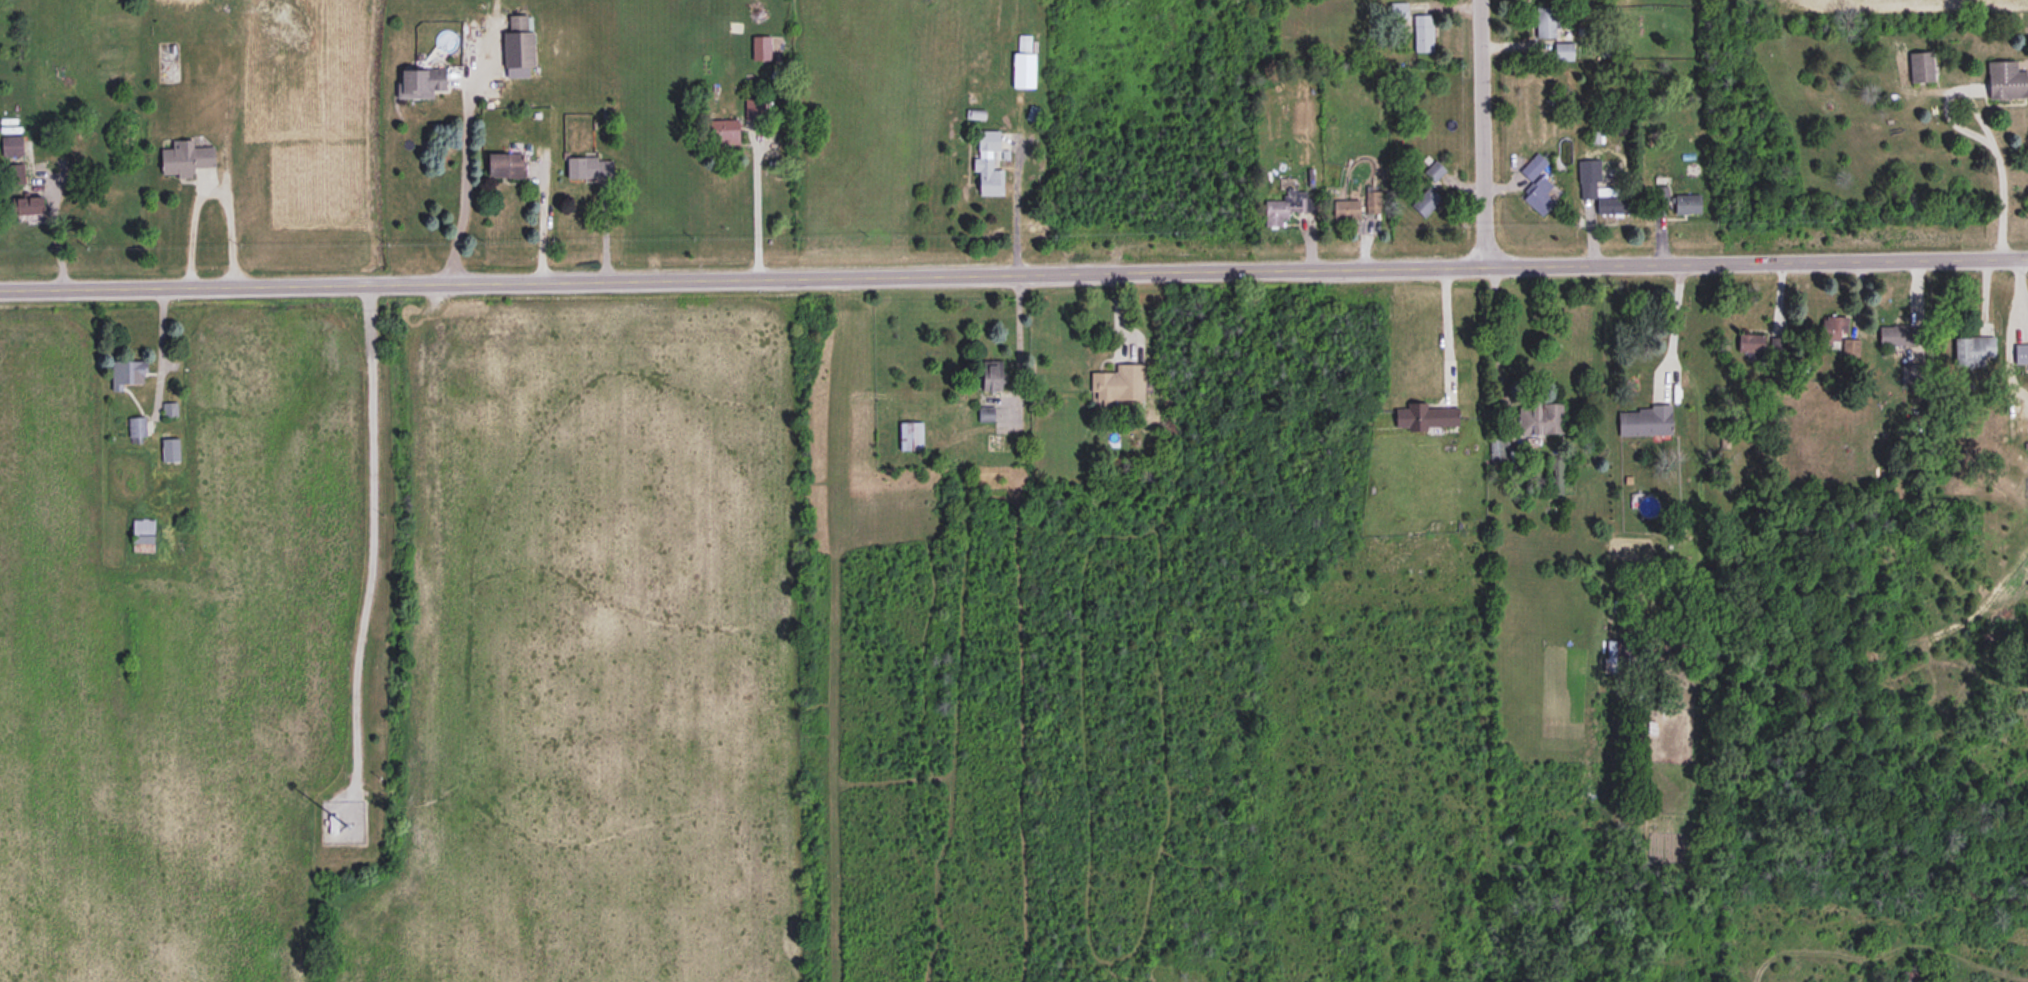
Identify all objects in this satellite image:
building: (1545, 24)
building: (1418, 31)
building: (520, 43)
building: (762, 47)
building: (1564, 52)
building: (1025, 64)
building: (1920, 68)
building: (422, 82)
building: (2006, 82)
building: (754, 109)
building: (724, 130)
road: (1482, 134)
road: (1971, 134)
building: (13, 145)
building: (186, 158)
building: (989, 163)
building: (506, 164)
building: (1536, 165)
building: (589, 167)
road: (465, 187)
road: (210, 191)
building: (1602, 191)
building: (1539, 200)
building: (1687, 205)
road: (755, 207)
road: (1016, 209)
road: (53, 227)
road: (1014, 275)
road: (1448, 330)
road: (1675, 331)
building: (1897, 336)
road: (1018, 337)
road: (1494, 337)
building: (1840, 339)
building: (1751, 345)
road: (159, 347)
building: (1973, 351)
building: (2021, 355)
building: (128, 373)
building: (993, 375)
building: (1120, 382)
building: (987, 413)
building: (1419, 416)
building: (1540, 420)
building: (1644, 423)
building: (911, 434)
building: (1556, 477)
building: (1915, 977)

